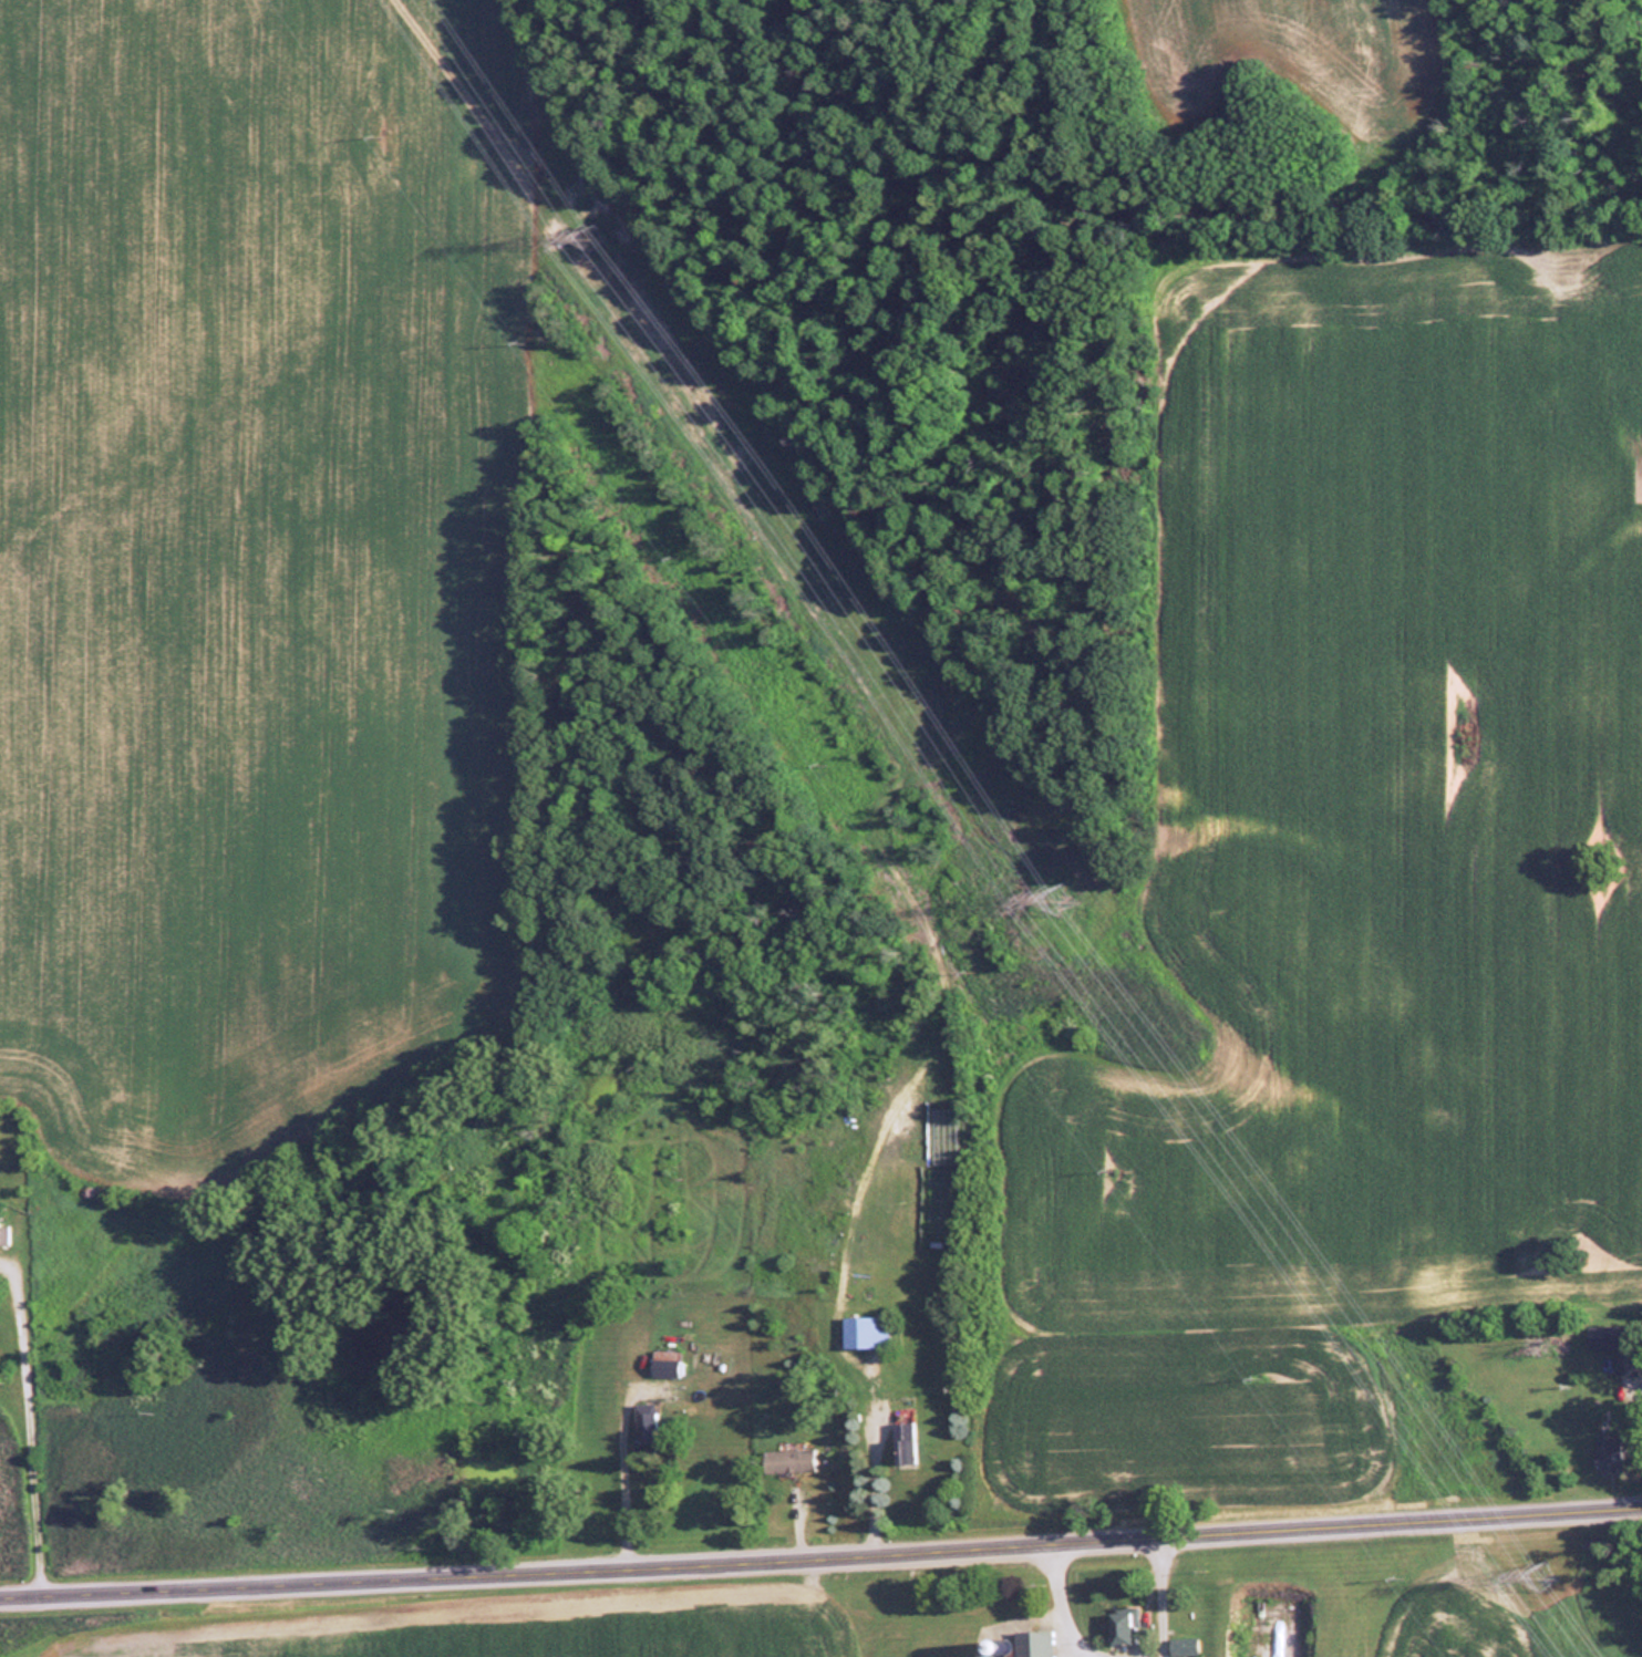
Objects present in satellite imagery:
power tower: (597, 238)
power tower: (1066, 901)
building: (4, 1235)
building: (868, 1334)
building: (1621, 1347)
building: (667, 1365)
road: (21, 1423)
building: (648, 1429)
building: (907, 1446)
building: (1613, 1454)
building: (791, 1463)
road: (820, 1551)
power tower: (1543, 1578)
road: (1158, 1593)
road: (1056, 1603)
building: (1128, 1630)
building: (1040, 1645)
building: (1187, 1648)

